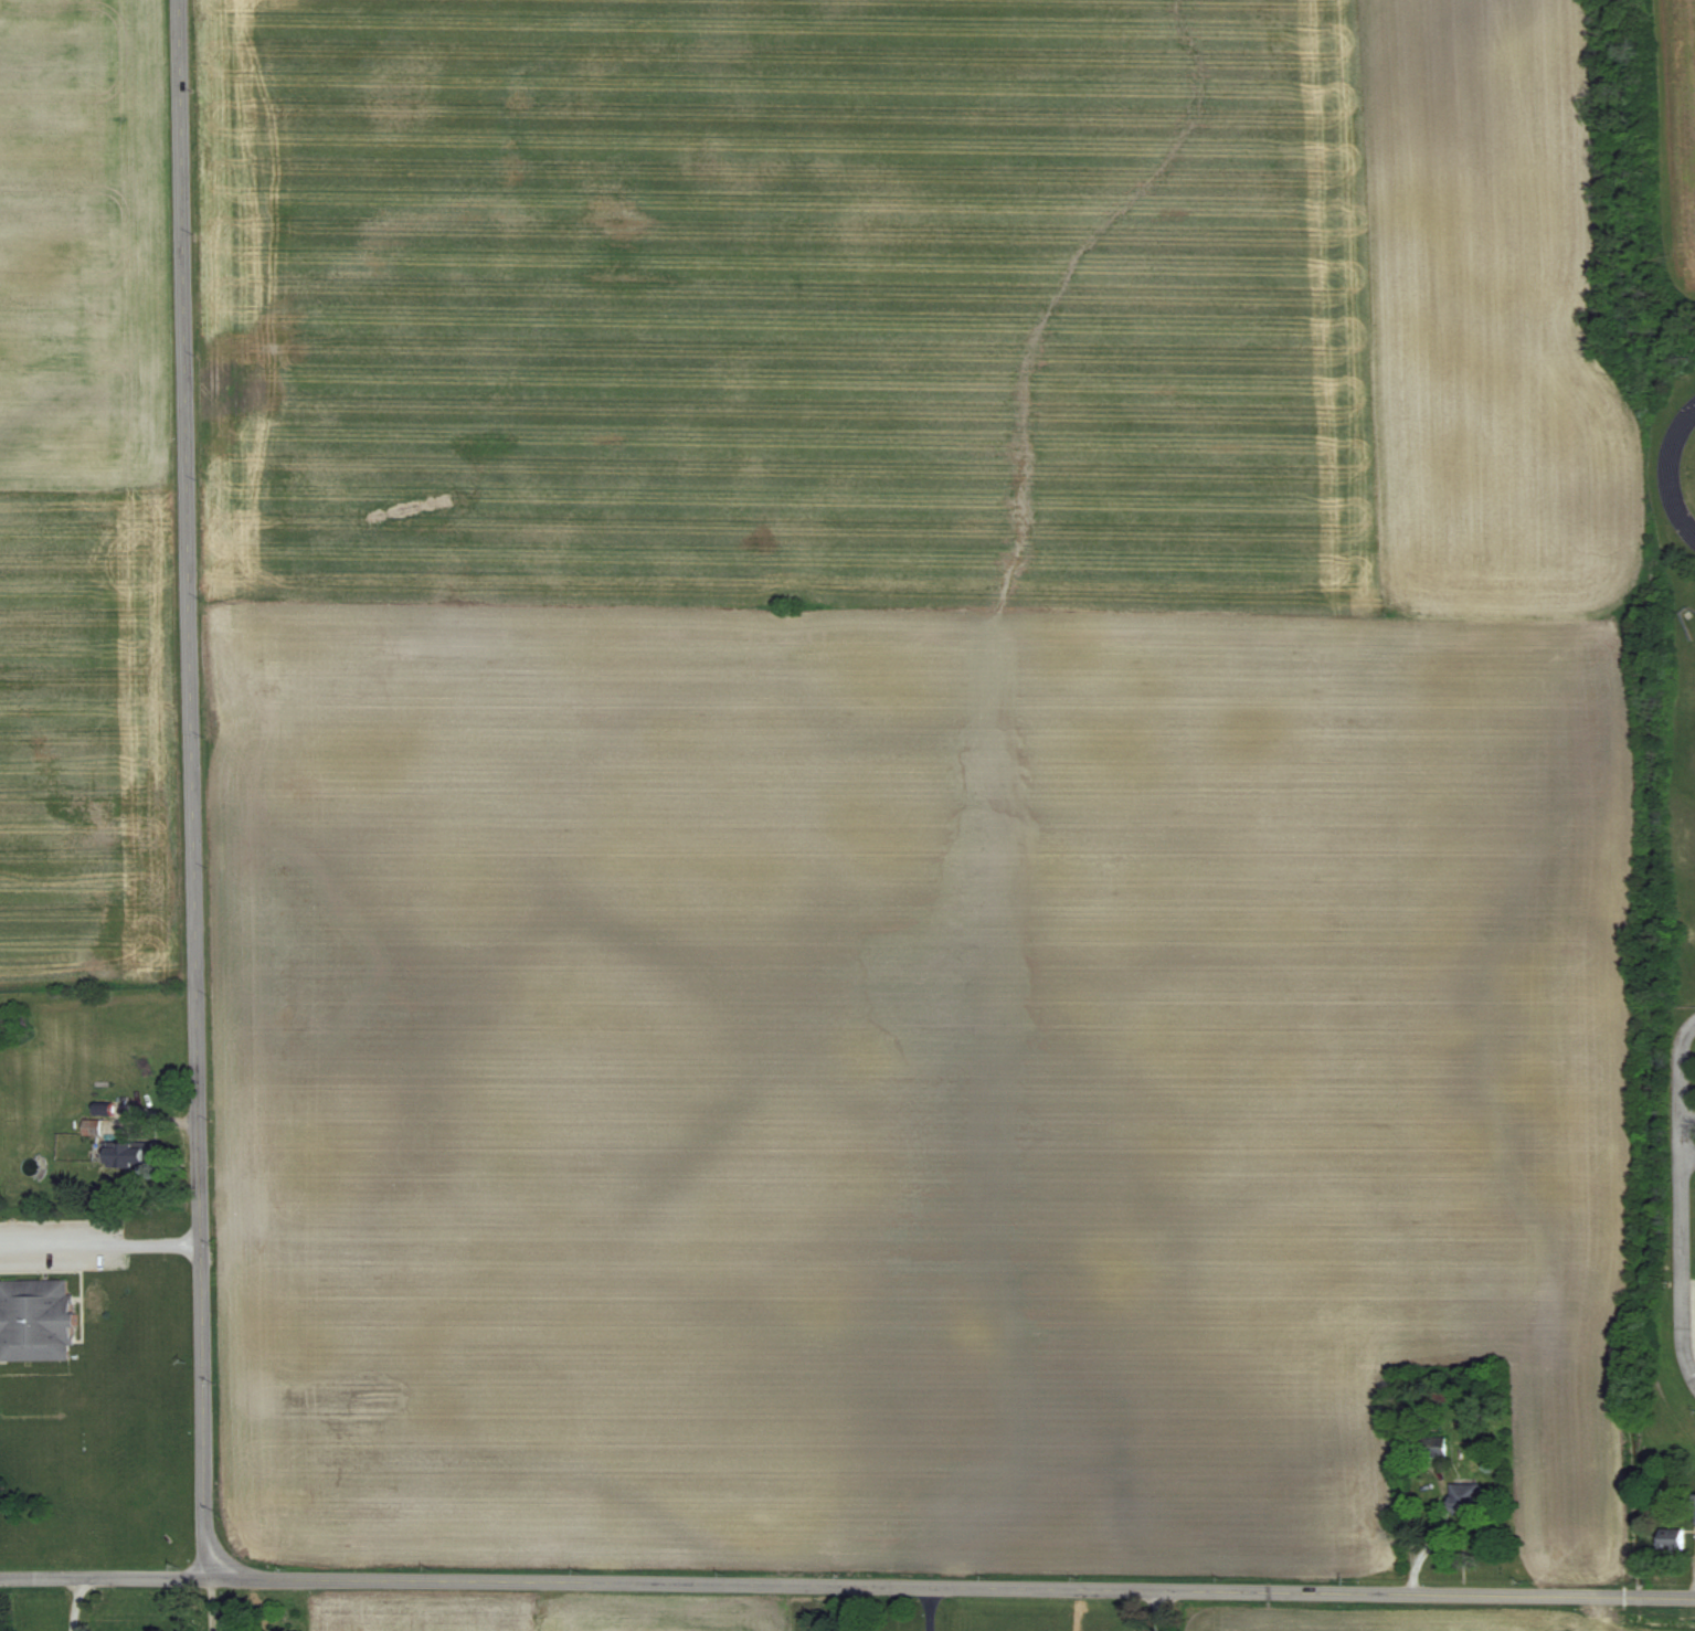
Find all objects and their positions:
track: (1676, 474)
road: (194, 788)
road: (1687, 1153)
building: (126, 1154)
road: (1681, 1196)
road: (102, 1240)
building: (34, 1321)
building: (1432, 1450)
building: (1462, 1497)
building: (1694, 1507)
building: (1670, 1538)
road: (847, 1587)
road: (1077, 1608)
road: (1155, 1609)
road: (928, 1610)

